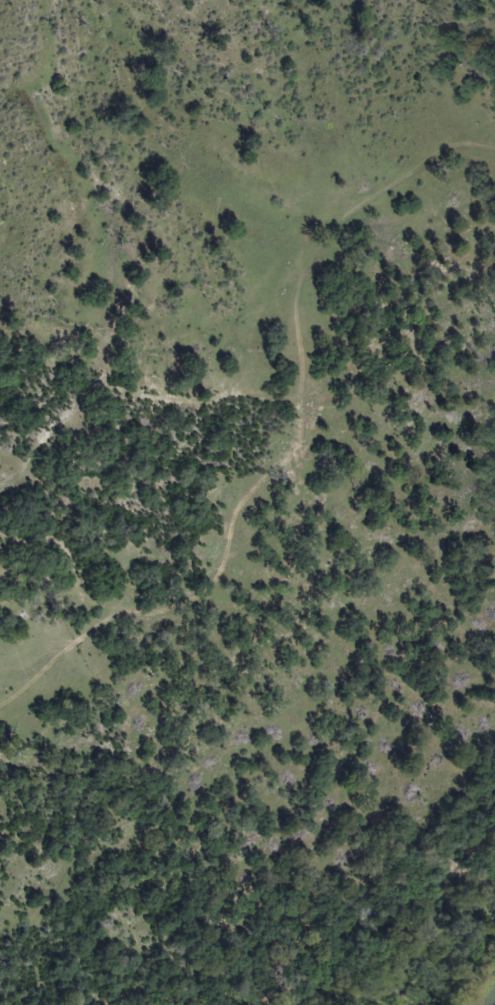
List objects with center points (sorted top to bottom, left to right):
river: (487, 996)

